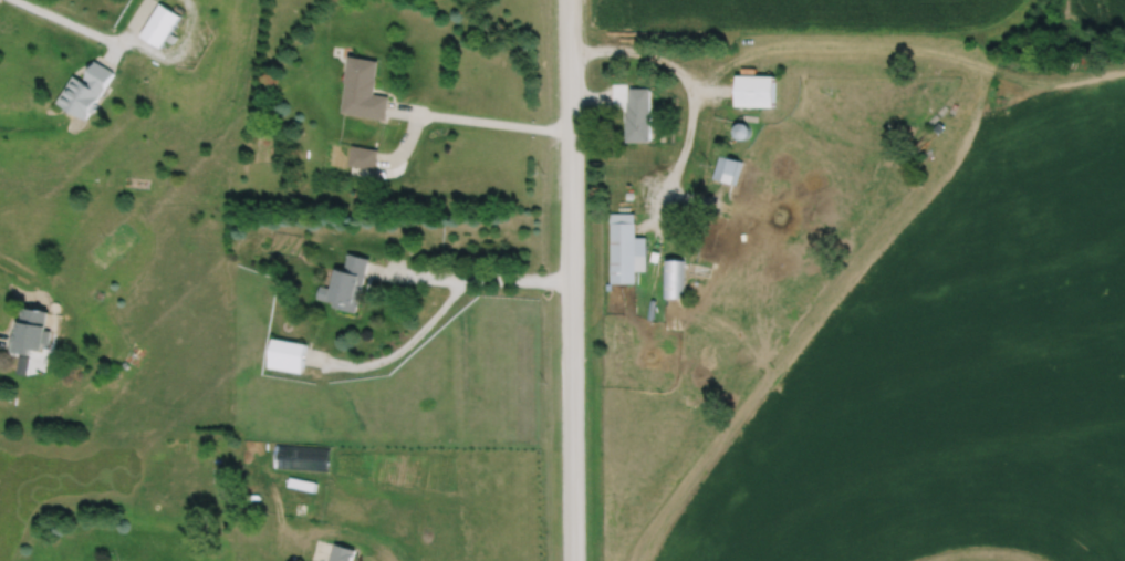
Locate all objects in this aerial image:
road: (67, 21)
road: (136, 21)
building: (159, 23)
building: (170, 37)
road: (175, 53)
building: (362, 89)
building: (85, 90)
building: (756, 90)
road: (596, 97)
building: (637, 114)
road: (480, 120)
building: (741, 129)
road: (686, 135)
road: (406, 141)
building: (362, 156)
building: (728, 168)
building: (628, 194)
road: (698, 198)
building: (683, 228)
building: (698, 228)
building: (185, 230)
building: (624, 248)
road: (470, 277)
building: (674, 278)
road: (570, 280)
building: (345, 283)
building: (30, 329)
road: (3, 337)
road: (398, 349)
building: (287, 354)
building: (125, 362)
building: (690, 398)
building: (302, 481)
building: (342, 552)

